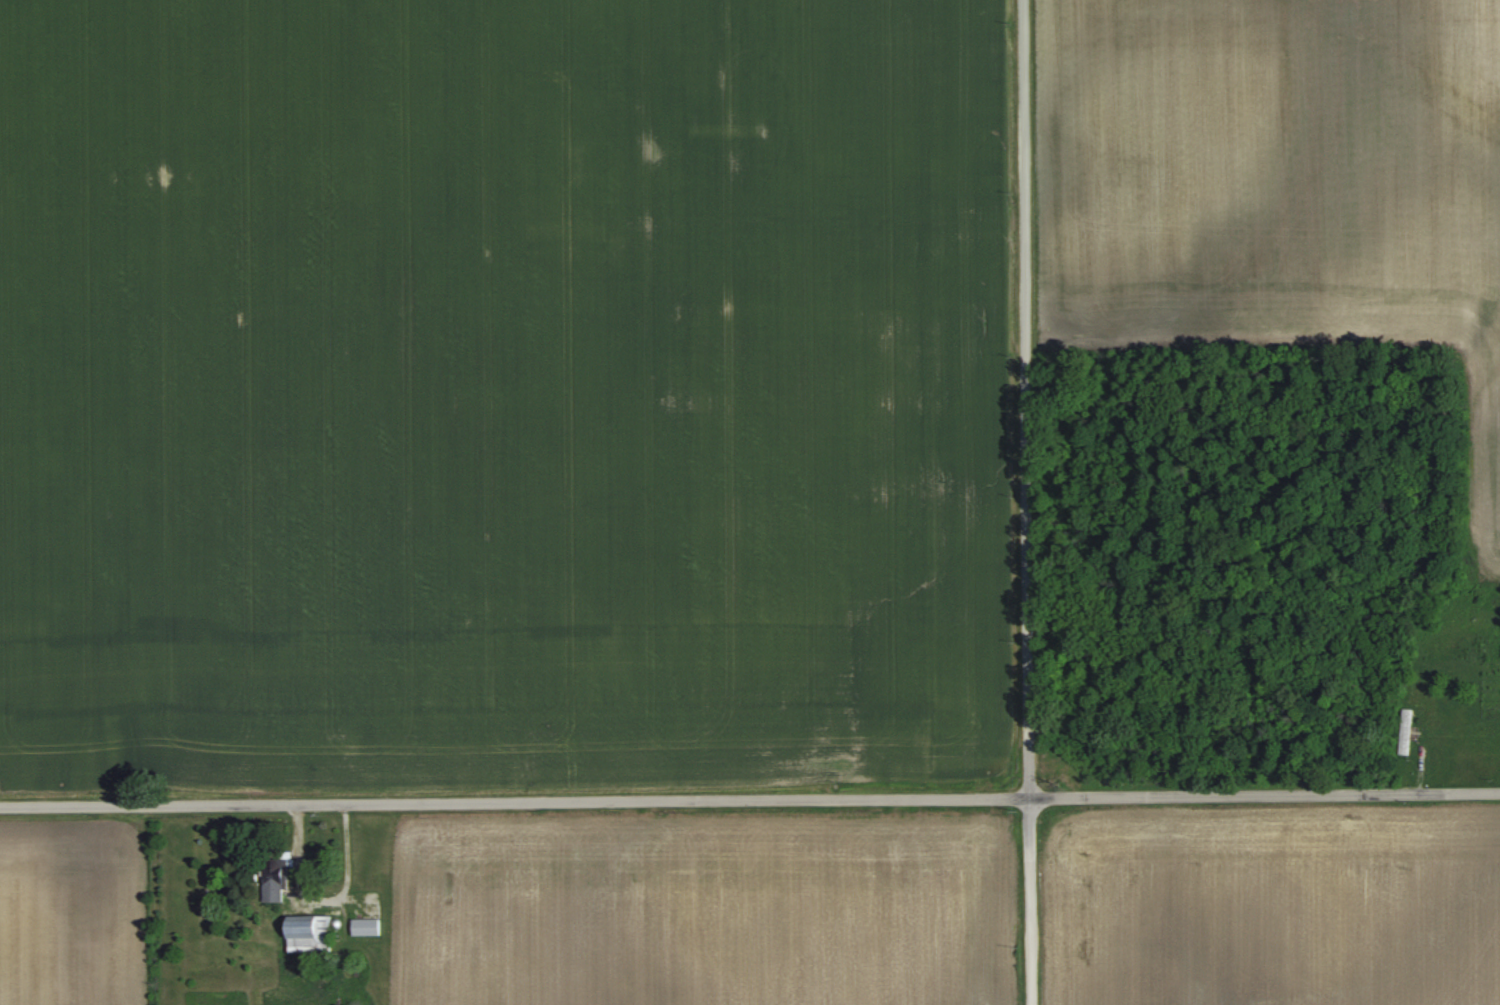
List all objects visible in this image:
road: (1026, 502)
building: (1406, 731)
road: (750, 799)
building: (274, 879)
building: (366, 927)
building: (309, 933)

